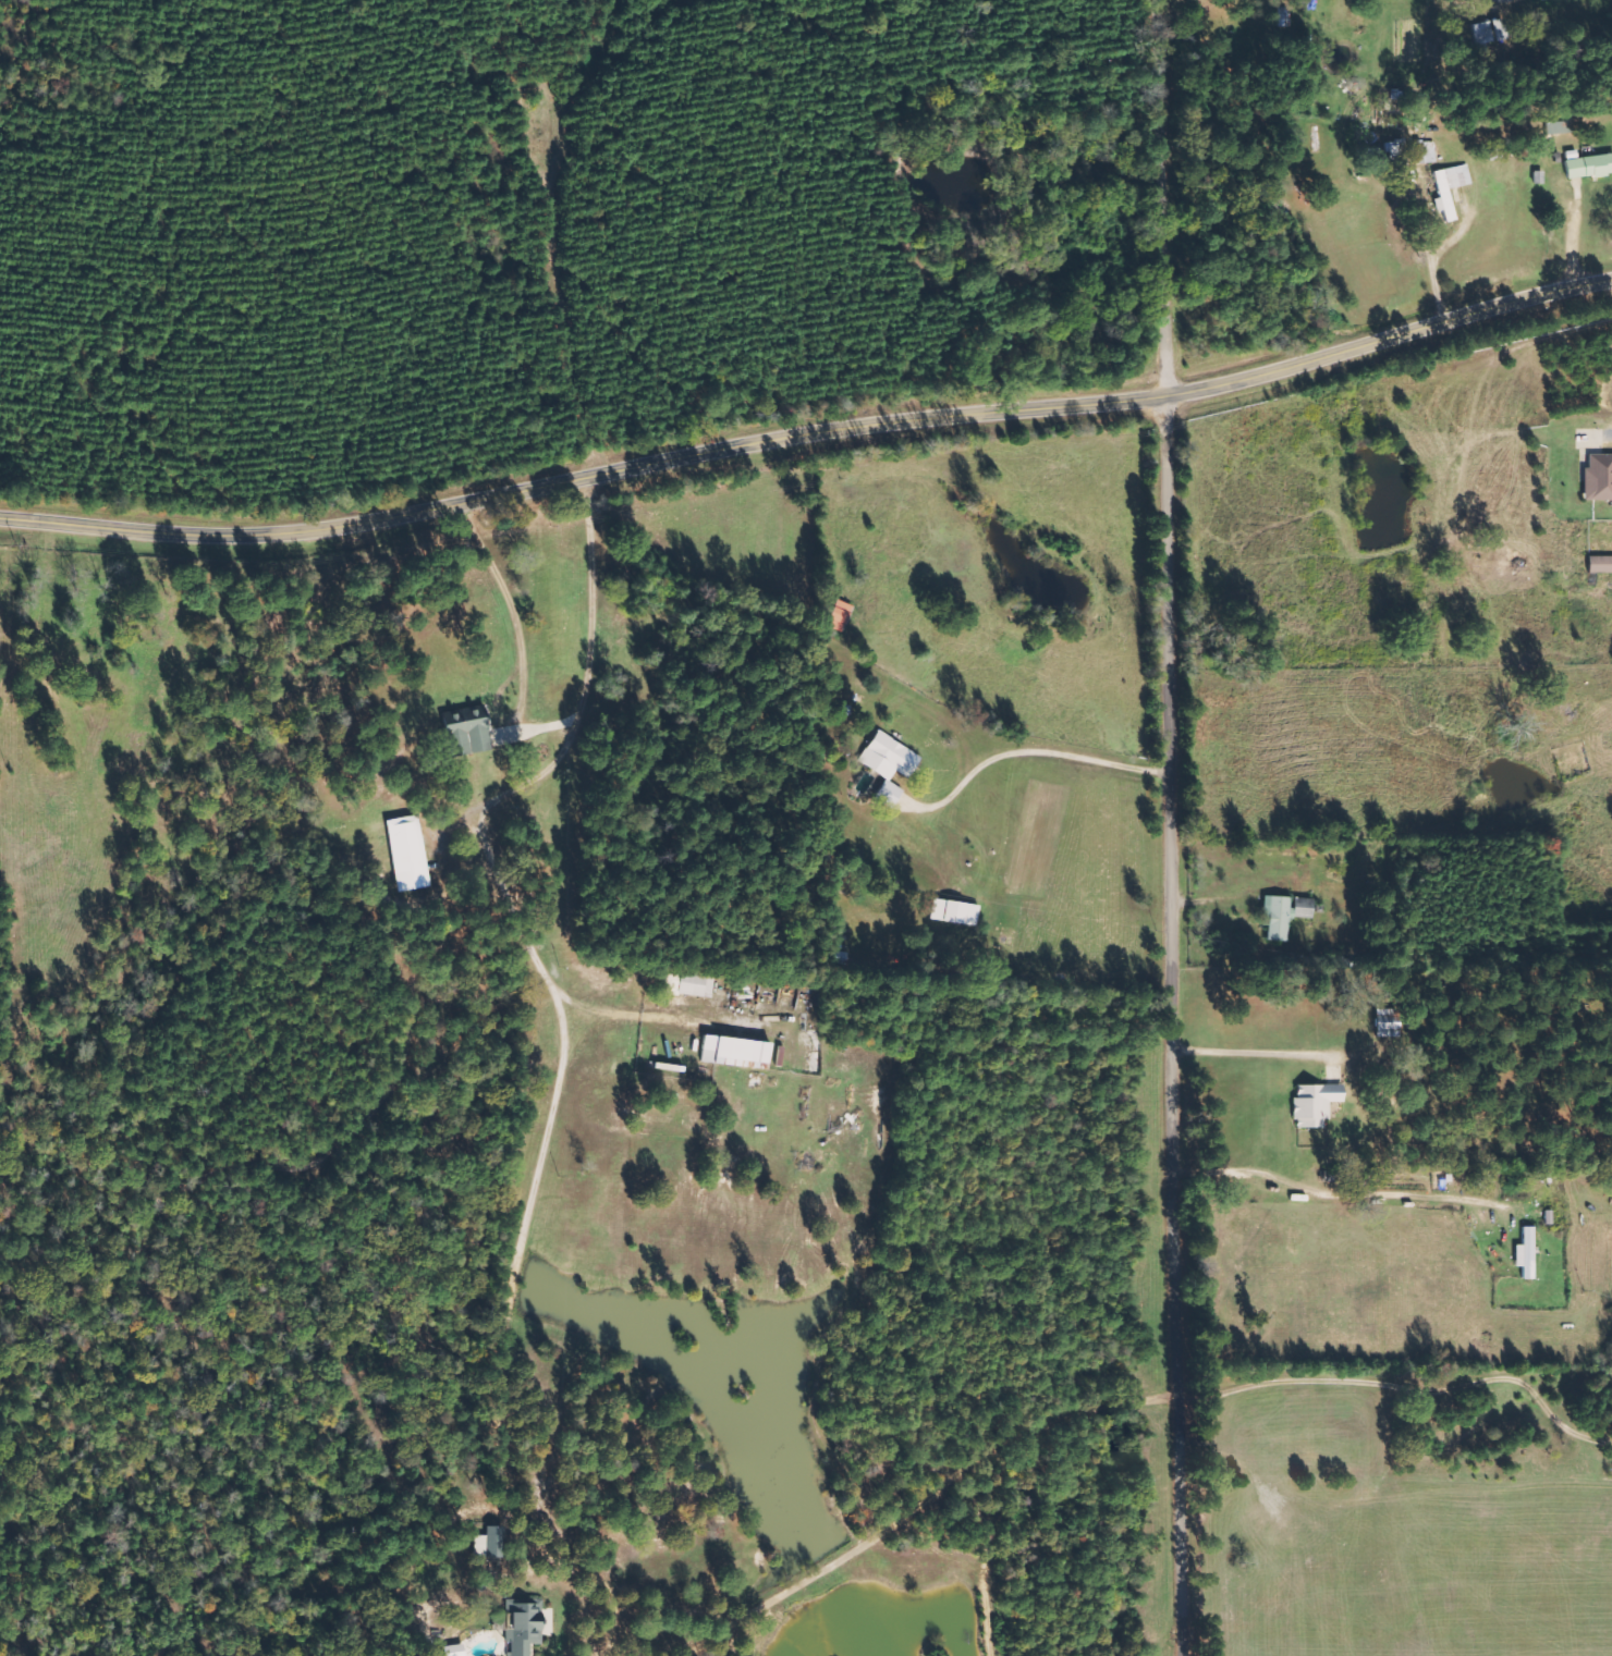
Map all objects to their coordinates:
building: (1422, 151)
building: (1587, 165)
building: (1448, 186)
road: (809, 432)
building: (1597, 476)
building: (1598, 563)
building: (843, 613)
building: (474, 729)
building: (890, 756)
building: (890, 793)
road: (1181, 827)
building: (412, 851)
building: (1298, 906)
building: (951, 910)
building: (1273, 917)
building: (698, 983)
building: (738, 1050)
building: (1312, 1102)
building: (1525, 1252)
building: (498, 1541)
building: (528, 1624)

